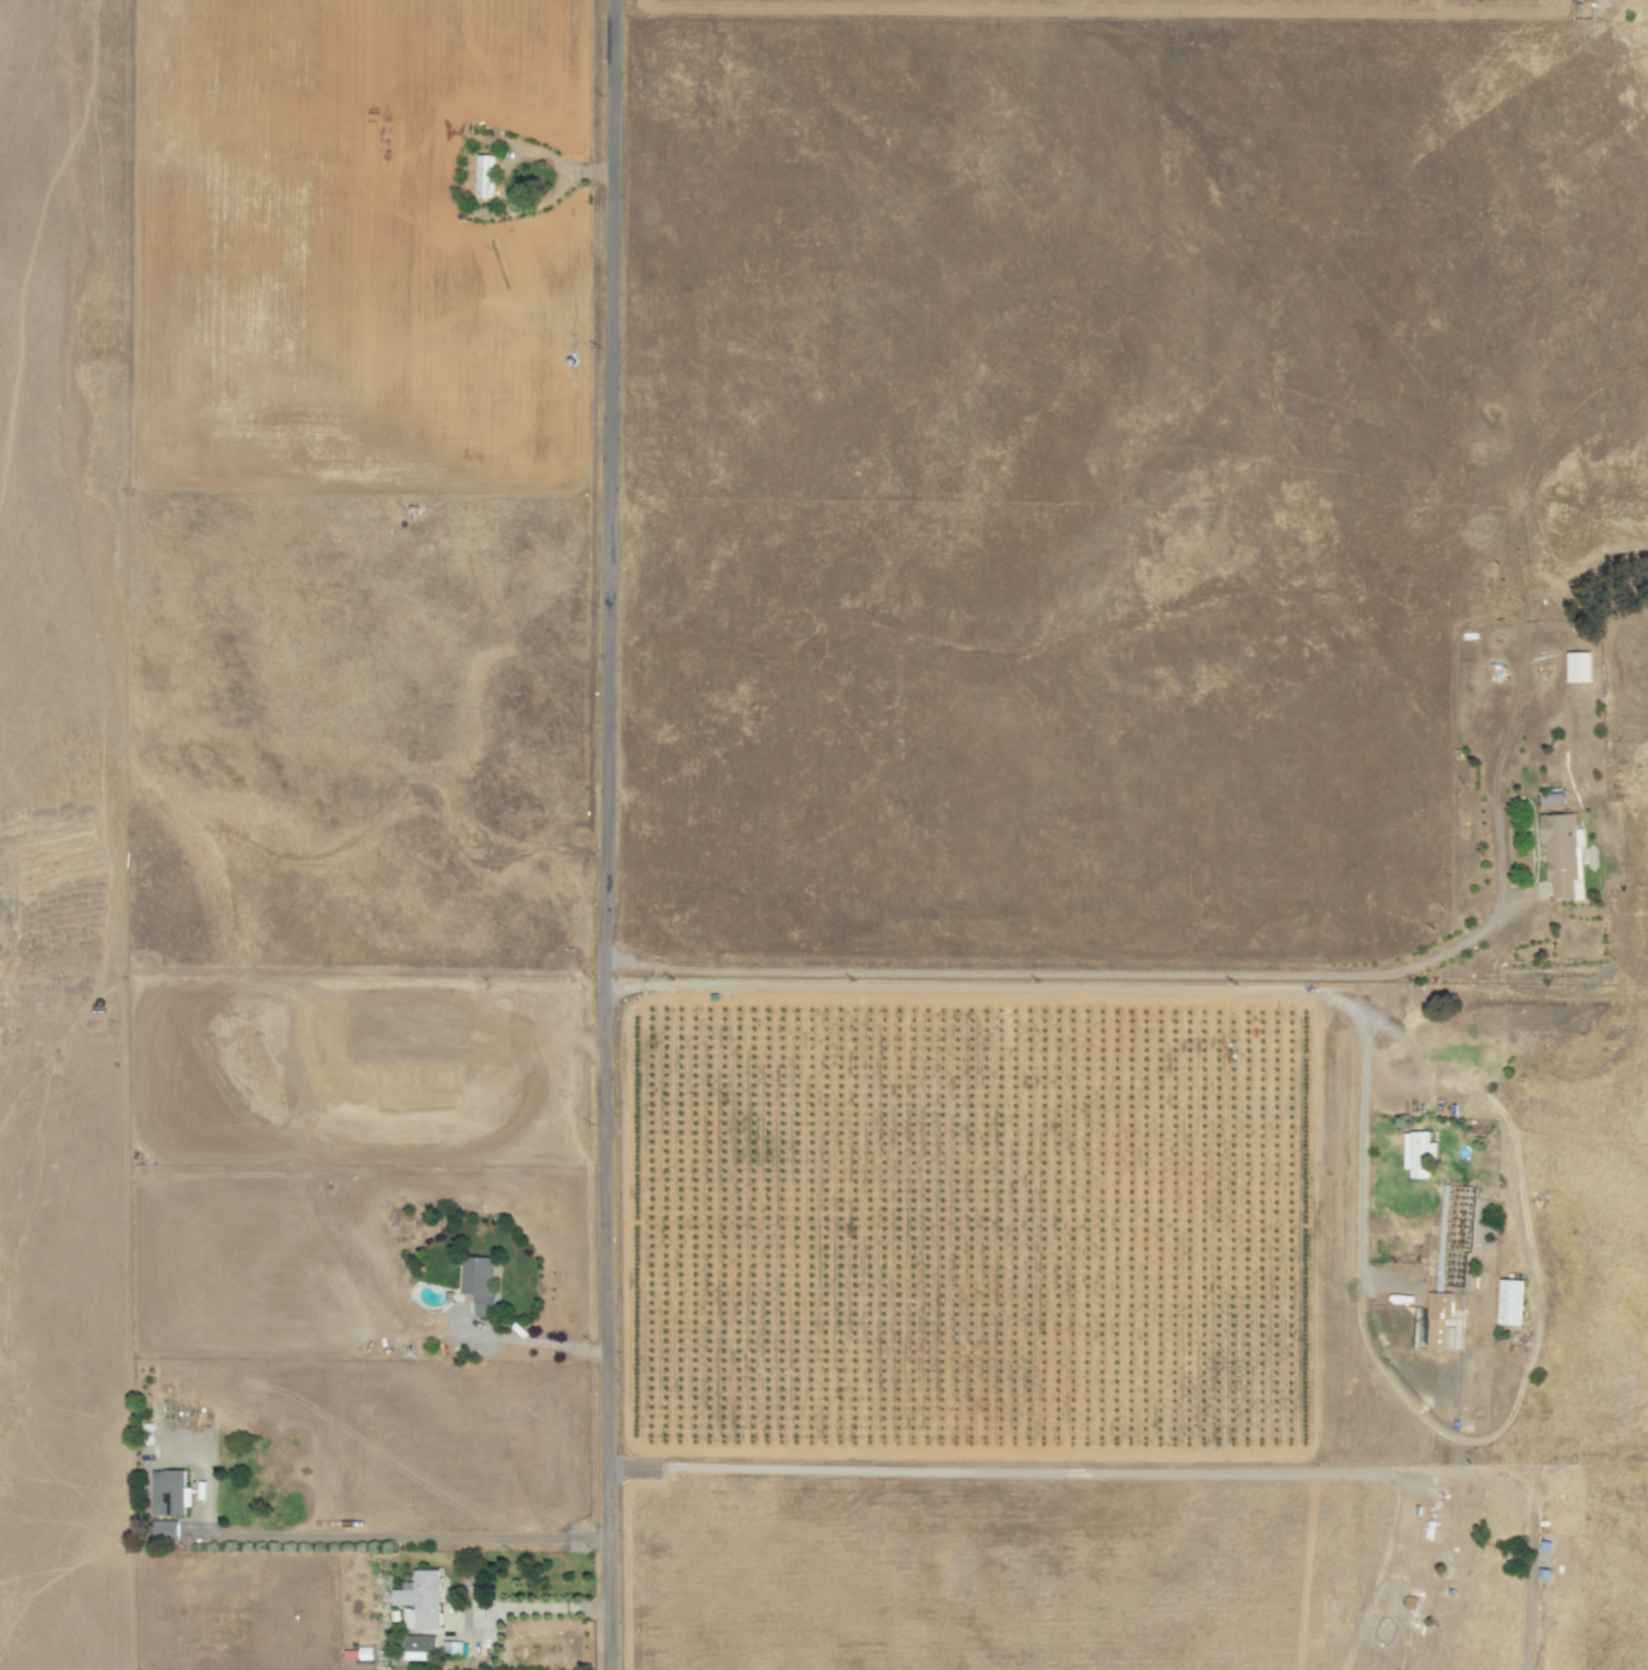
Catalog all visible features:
building: (483, 176)
building: (1577, 667)
building: (1550, 800)
road: (601, 835)
building: (1562, 856)
road: (1123, 988)
building: (1417, 1154)
building: (478, 1283)
building: (1510, 1303)
building: (1434, 1321)
building: (168, 1493)
building: (164, 1530)
road: (382, 1537)
building: (420, 1600)
building: (421, 1647)
building: (450, 1648)
building: (356, 1654)

